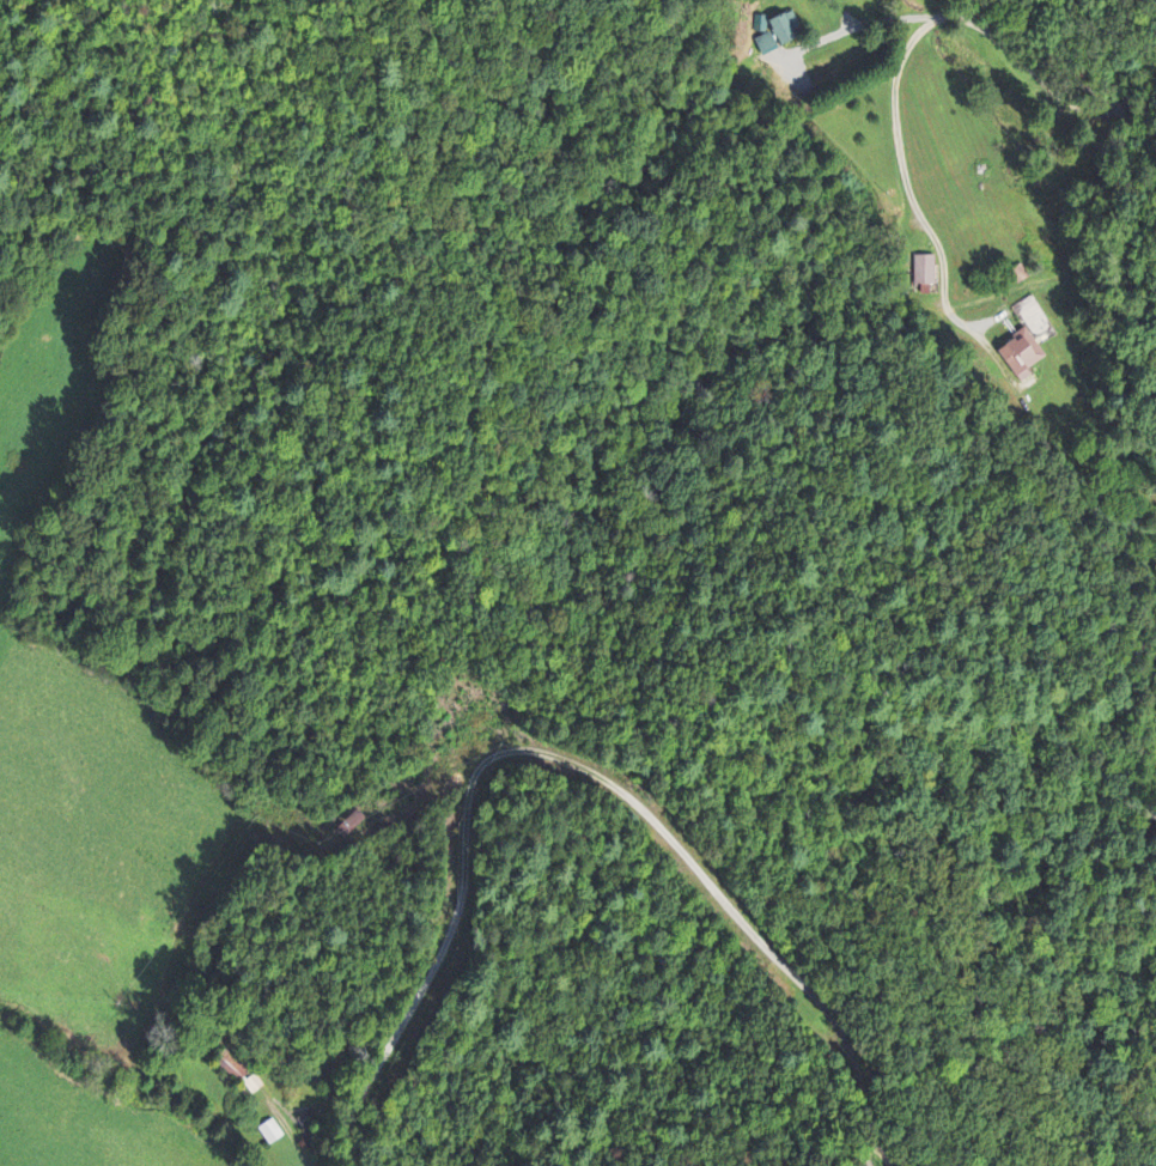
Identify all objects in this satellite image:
building: (777, 36)
road: (905, 49)
road: (1064, 60)
road: (1125, 262)
building: (923, 272)
building: (1026, 342)
road: (497, 754)
building: (270, 1134)
road: (296, 1134)

